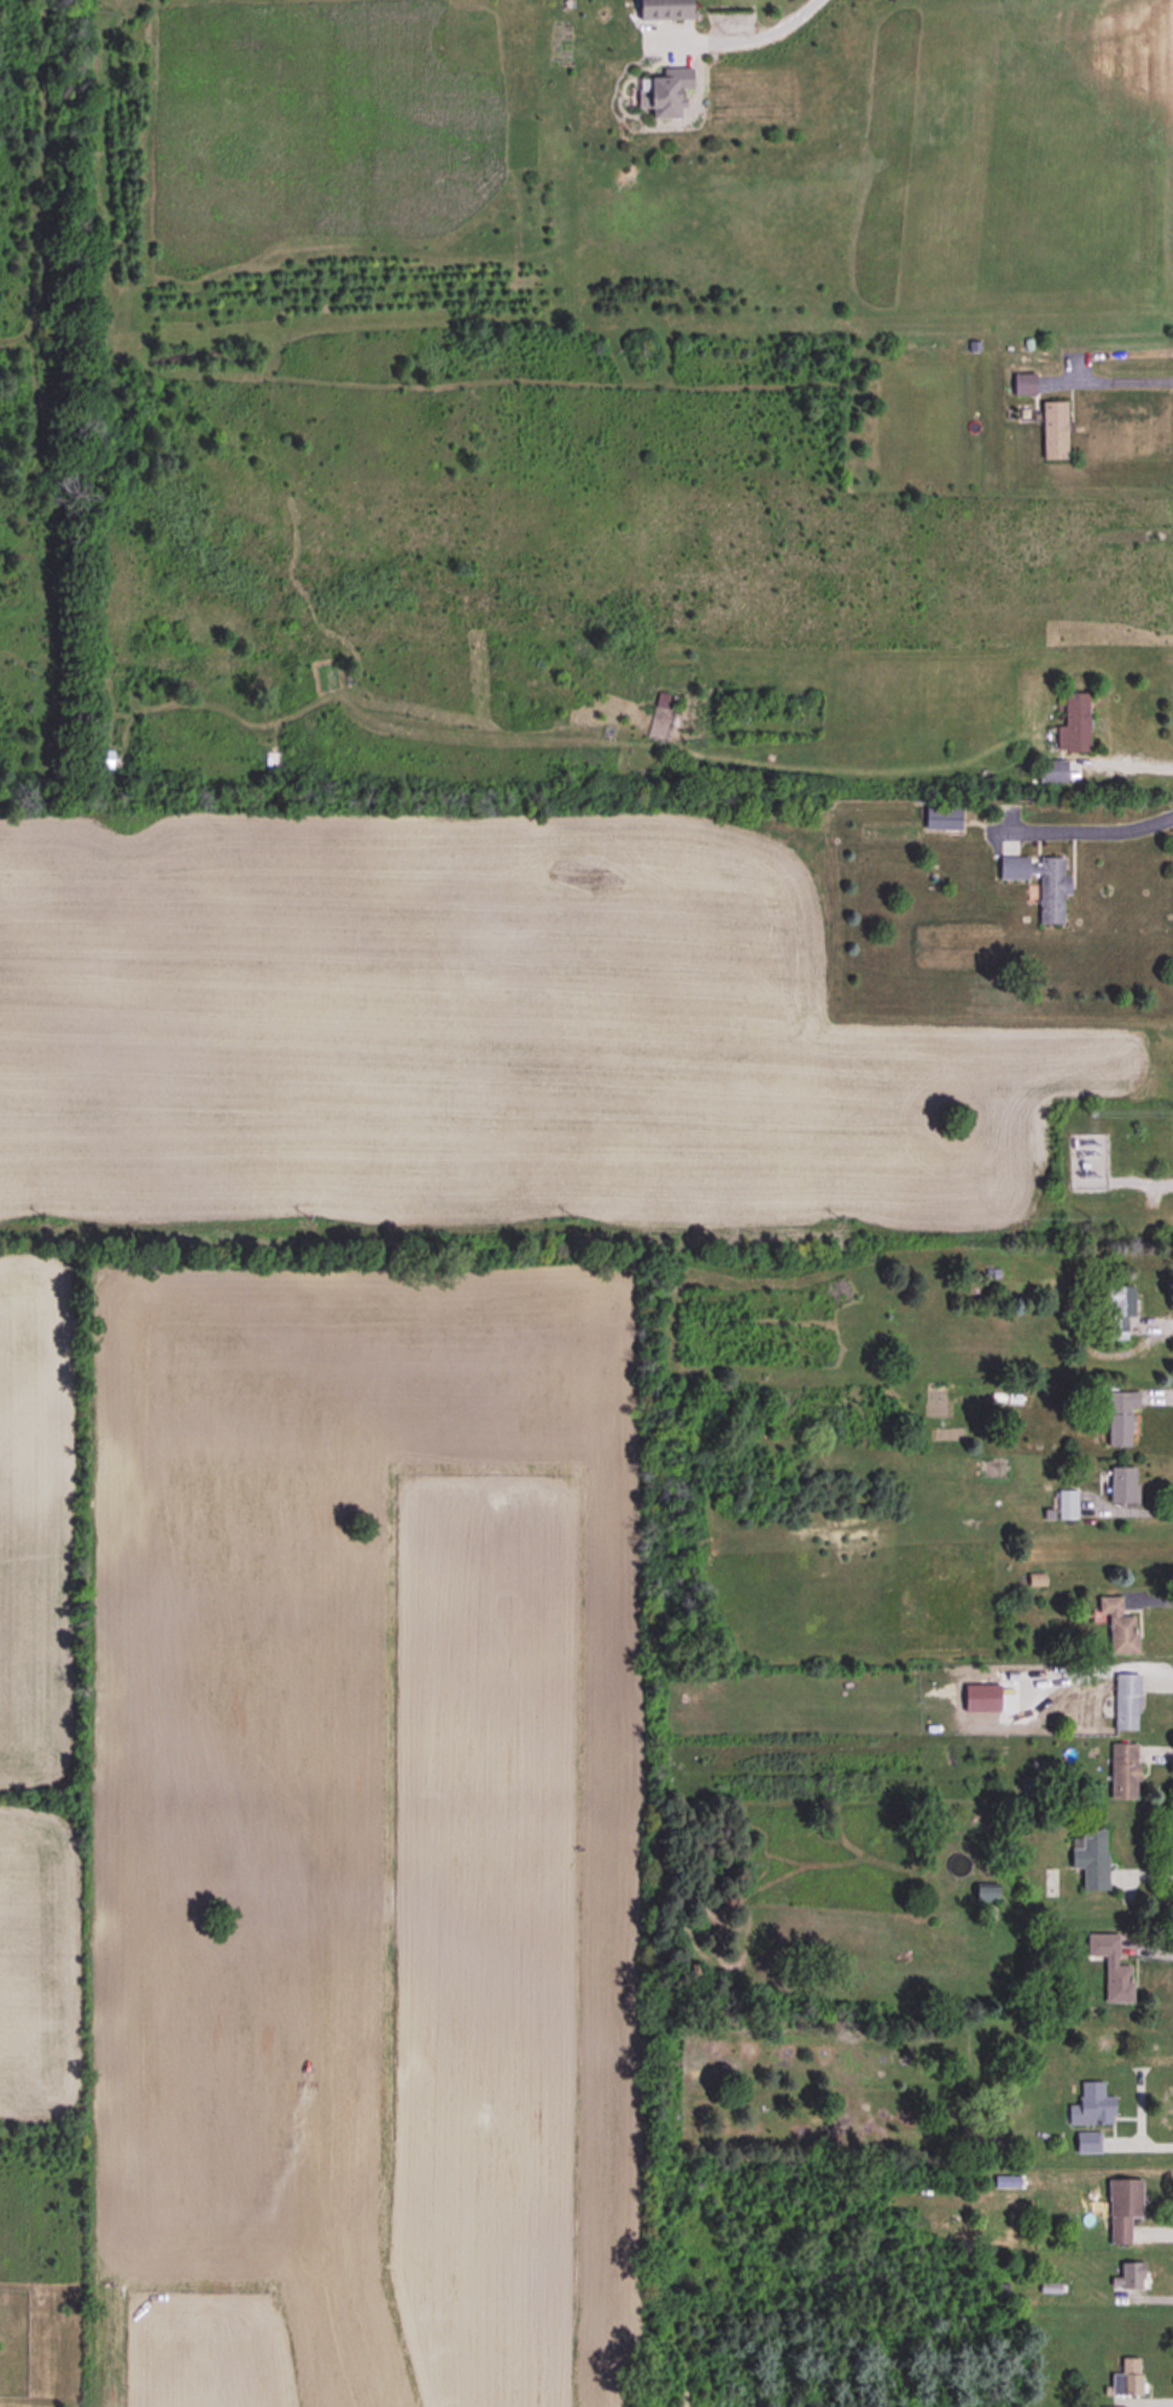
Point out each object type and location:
building: (663, 10)
road: (753, 30)
building: (665, 93)
road: (1107, 381)
building: (1023, 385)
building: (1054, 431)
building: (1075, 723)
road: (1130, 764)
building: (1051, 772)
building: (943, 819)
road: (1101, 830)
building: (1040, 883)
building: (1119, 1309)
building: (1121, 1419)
building: (1124, 1485)
building: (1068, 1505)
building: (1119, 1628)
building: (1126, 1702)
building: (1124, 1771)
building: (1093, 1860)
road: (1144, 1882)
building: (986, 1893)
building: (1111, 1967)
building: (1092, 2105)
building: (1089, 2142)
building: (1124, 2209)
building: (1130, 2278)
building: (1127, 2378)

